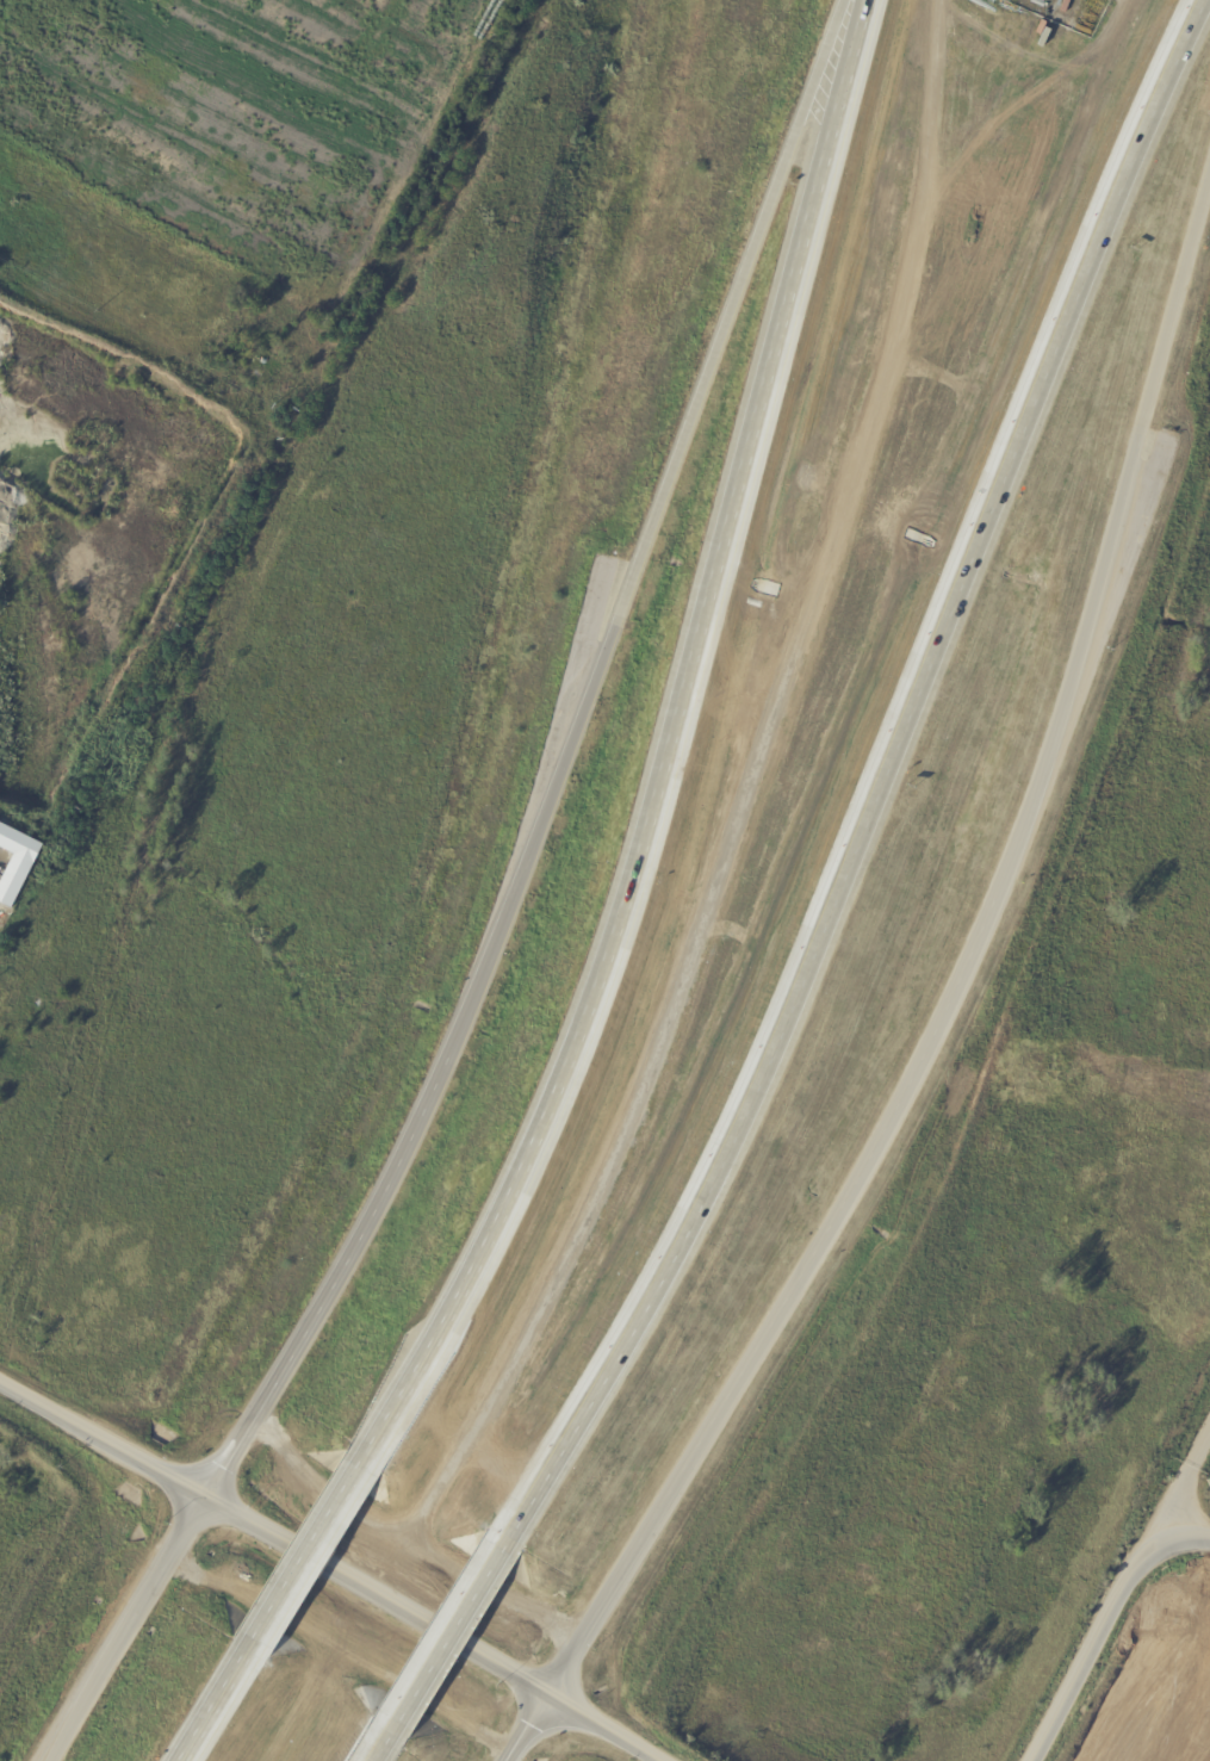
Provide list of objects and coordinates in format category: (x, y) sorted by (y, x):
road: (653, 517)
road: (1123, 544)
road: (664, 750)
road: (885, 783)
building: (19, 863)
road: (341, 1266)
road: (788, 1296)
traffic signals: (211, 1492)
road: (199, 1509)
road: (280, 1525)
traffic signals: (188, 1529)
road: (306, 1550)
road: (273, 1560)
road: (1123, 1596)
road: (452, 1630)
road: (331, 1632)
road: (118, 1644)
road: (626, 1656)
traffic signals: (557, 1679)
road: (547, 1693)
road: (212, 1699)
traffic signals: (538, 1709)
road: (625, 1719)
road: (522, 1735)
road: (581, 1735)
road: (384, 1742)

